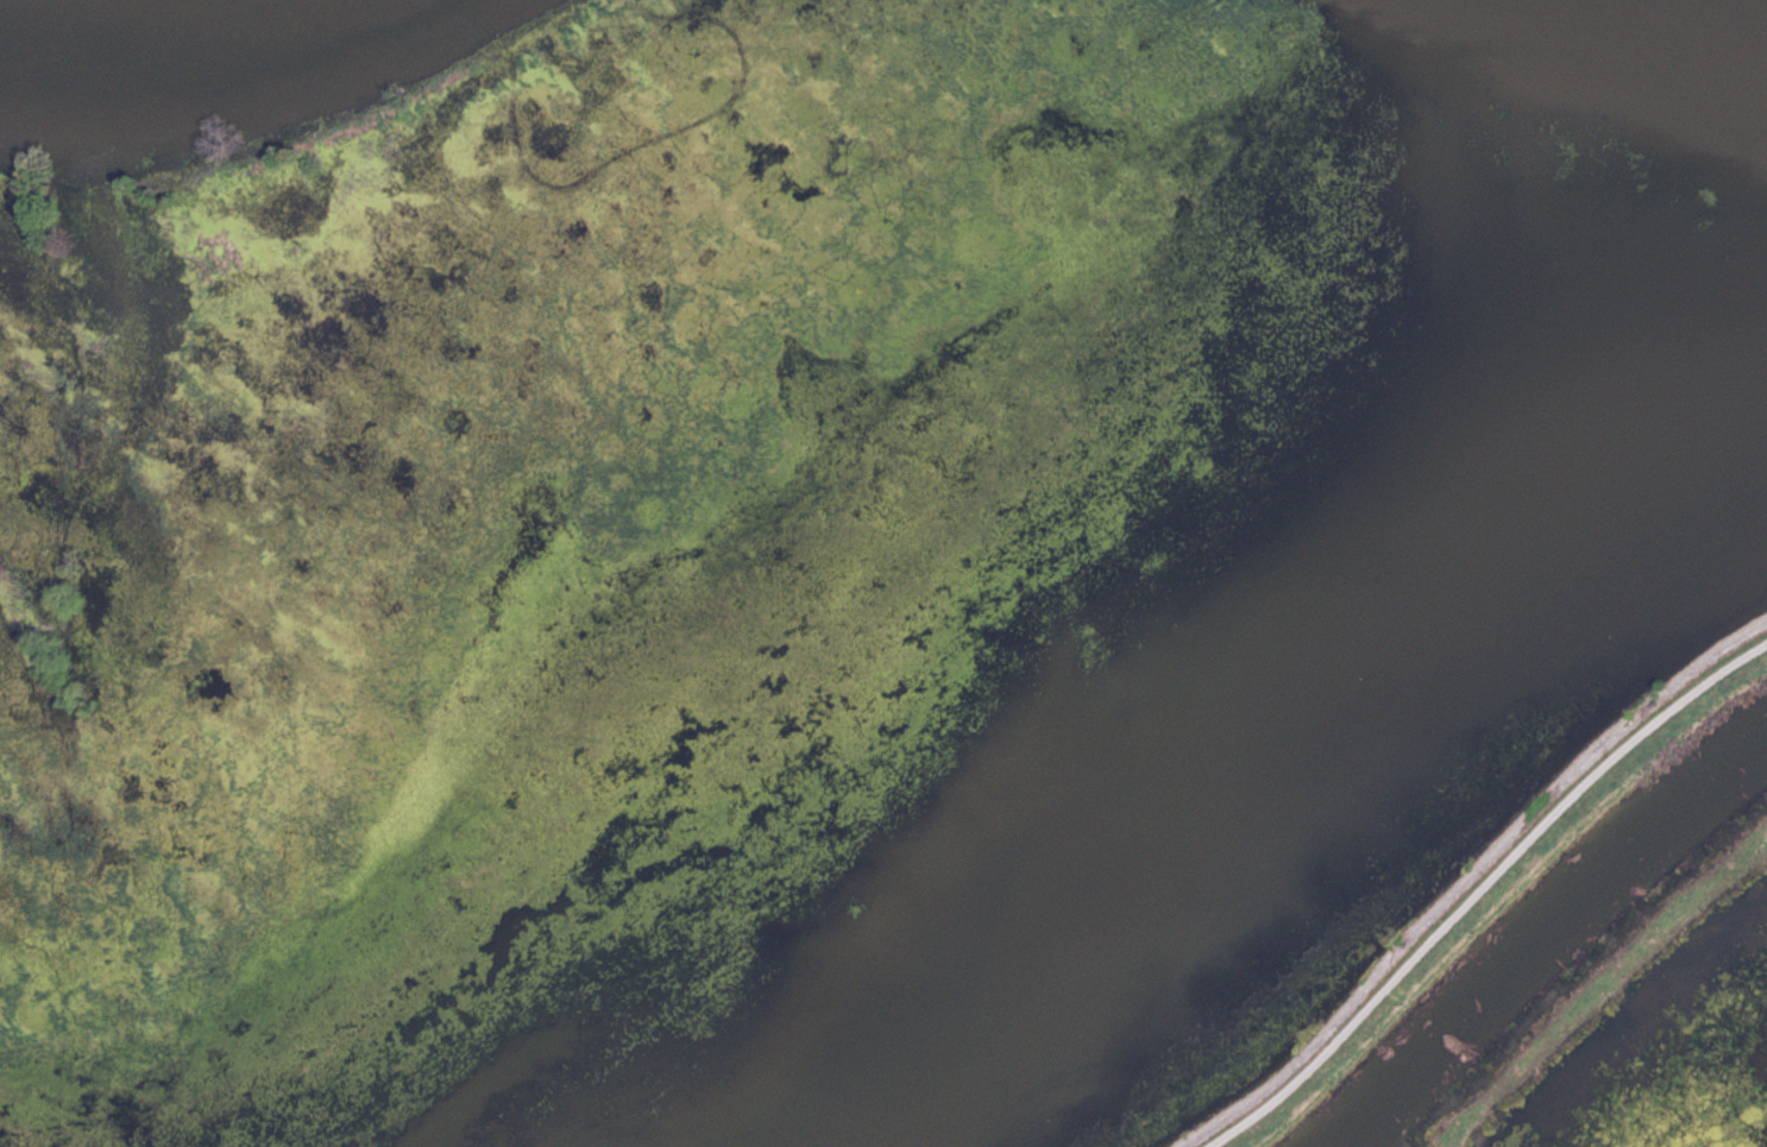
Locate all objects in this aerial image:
river: (33, 11)
road: (1490, 889)

